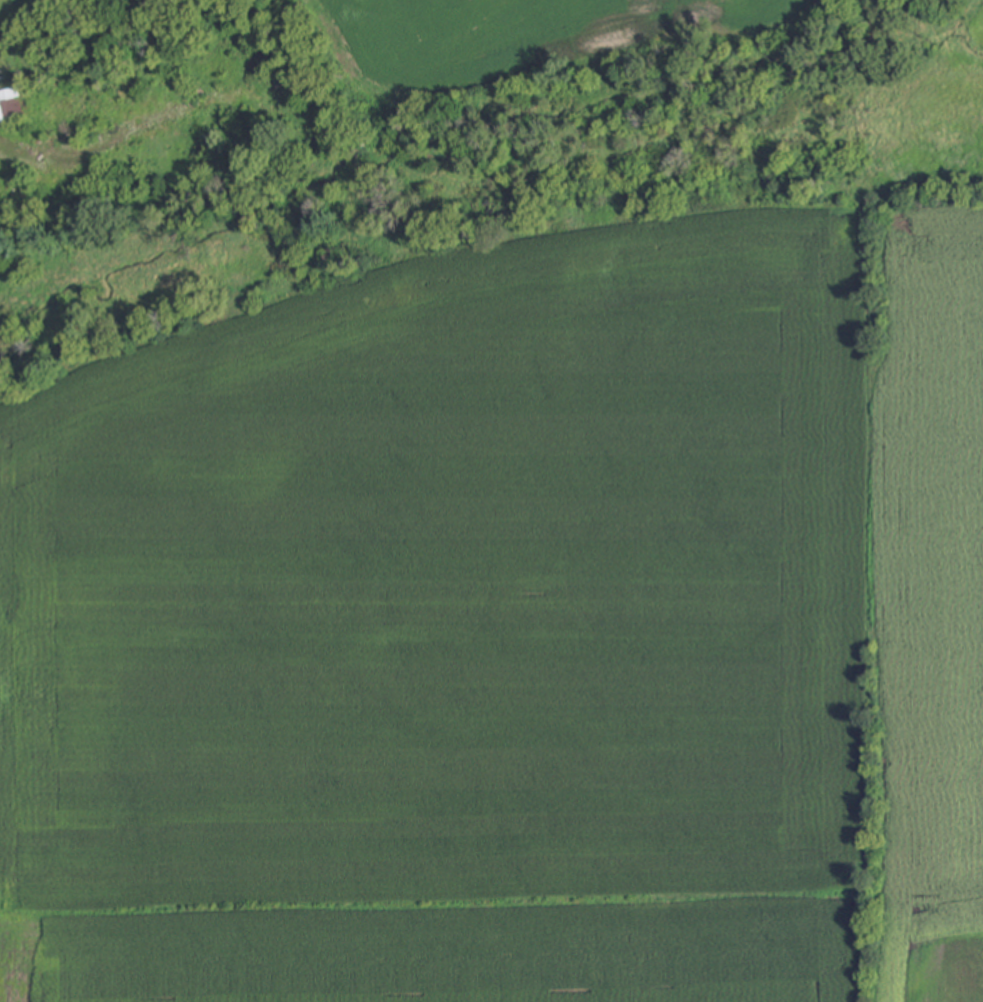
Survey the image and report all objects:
building: (14, 105)

